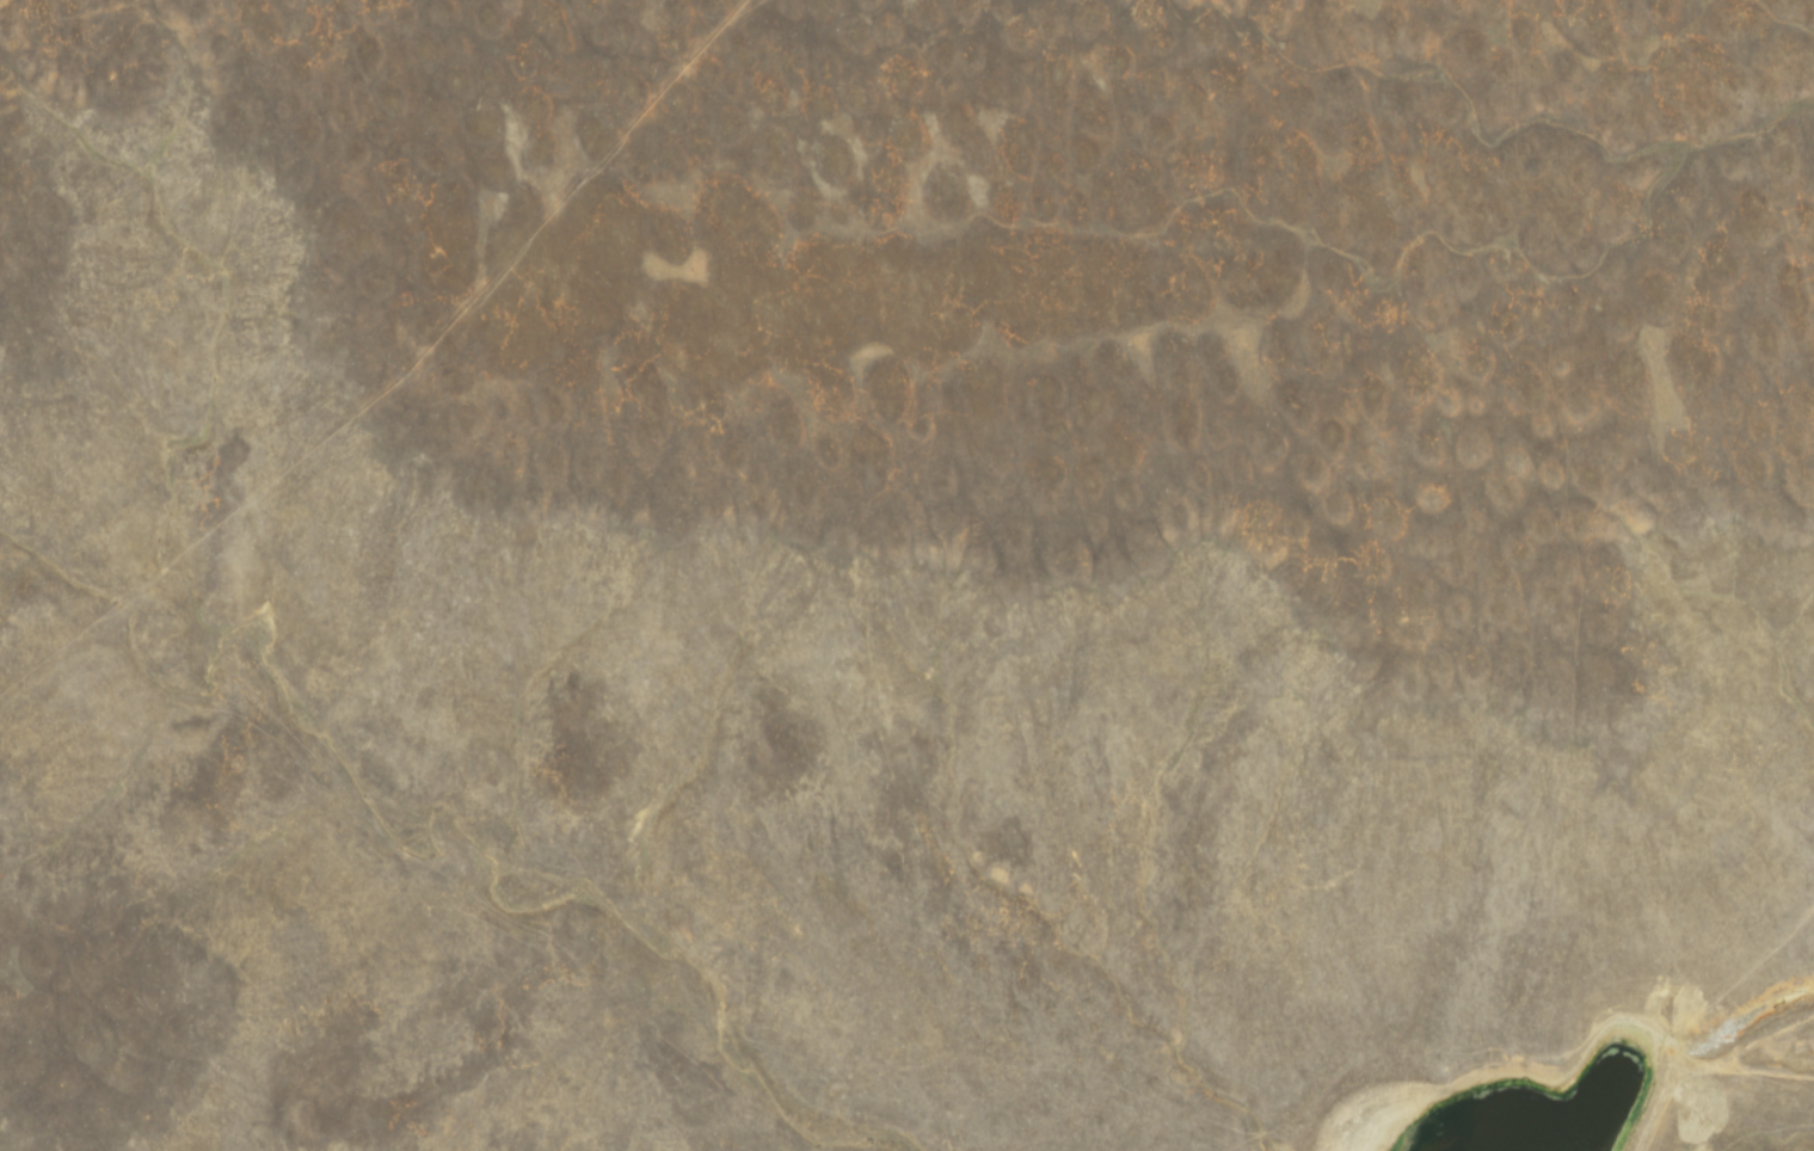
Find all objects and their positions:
road: (6, 2)
dam: (1644, 1114)

